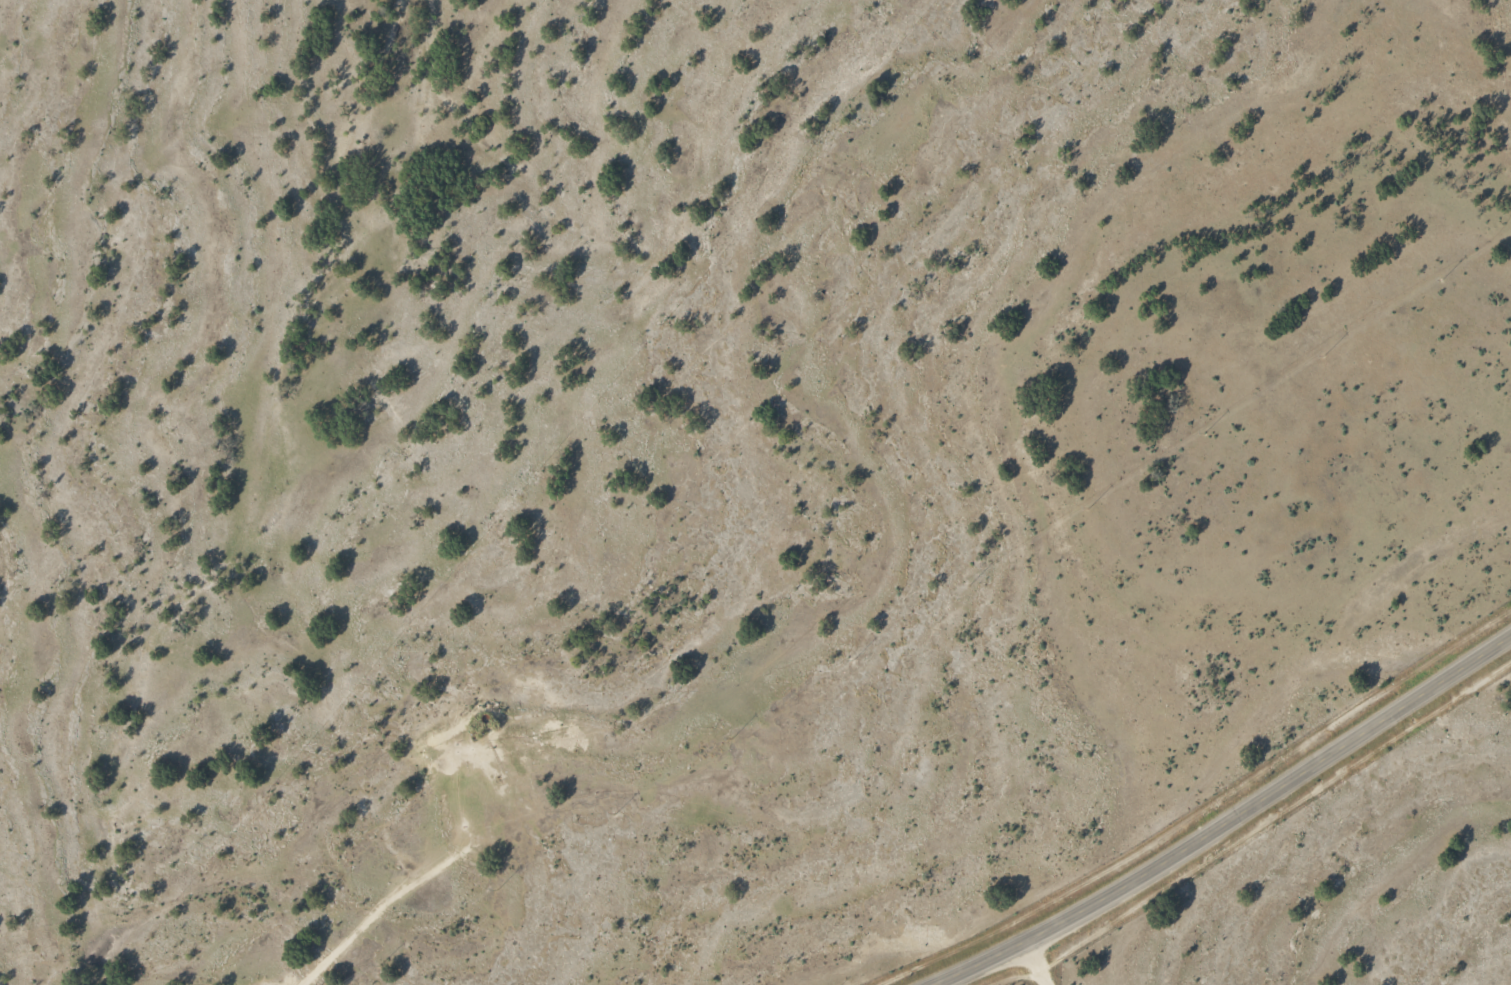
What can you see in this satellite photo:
road: (1229, 826)

